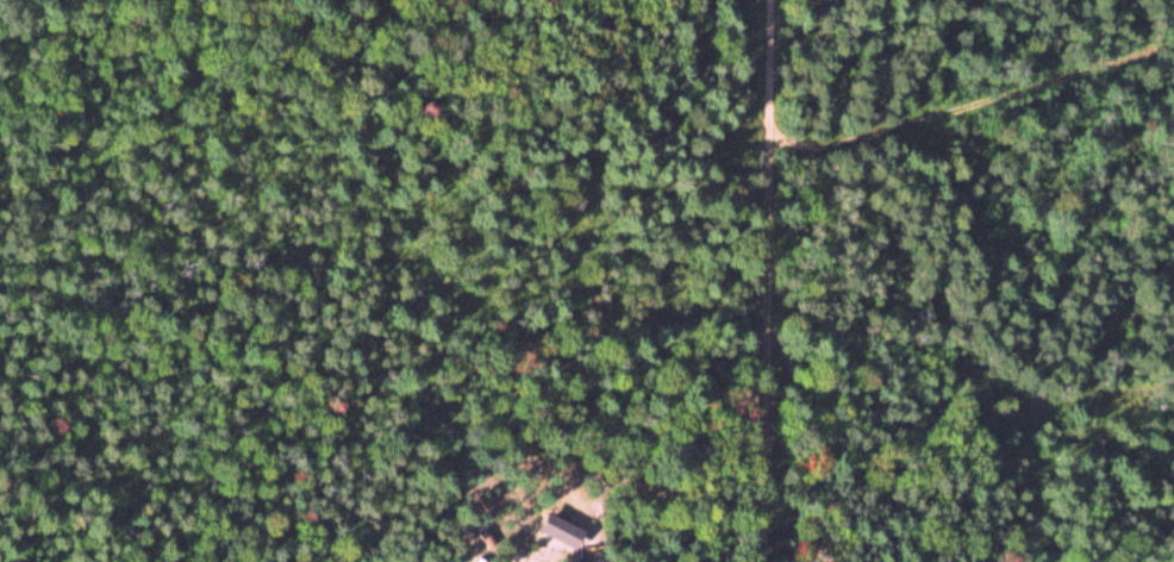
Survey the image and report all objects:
road: (973, 102)
road: (764, 279)
building: (560, 554)

